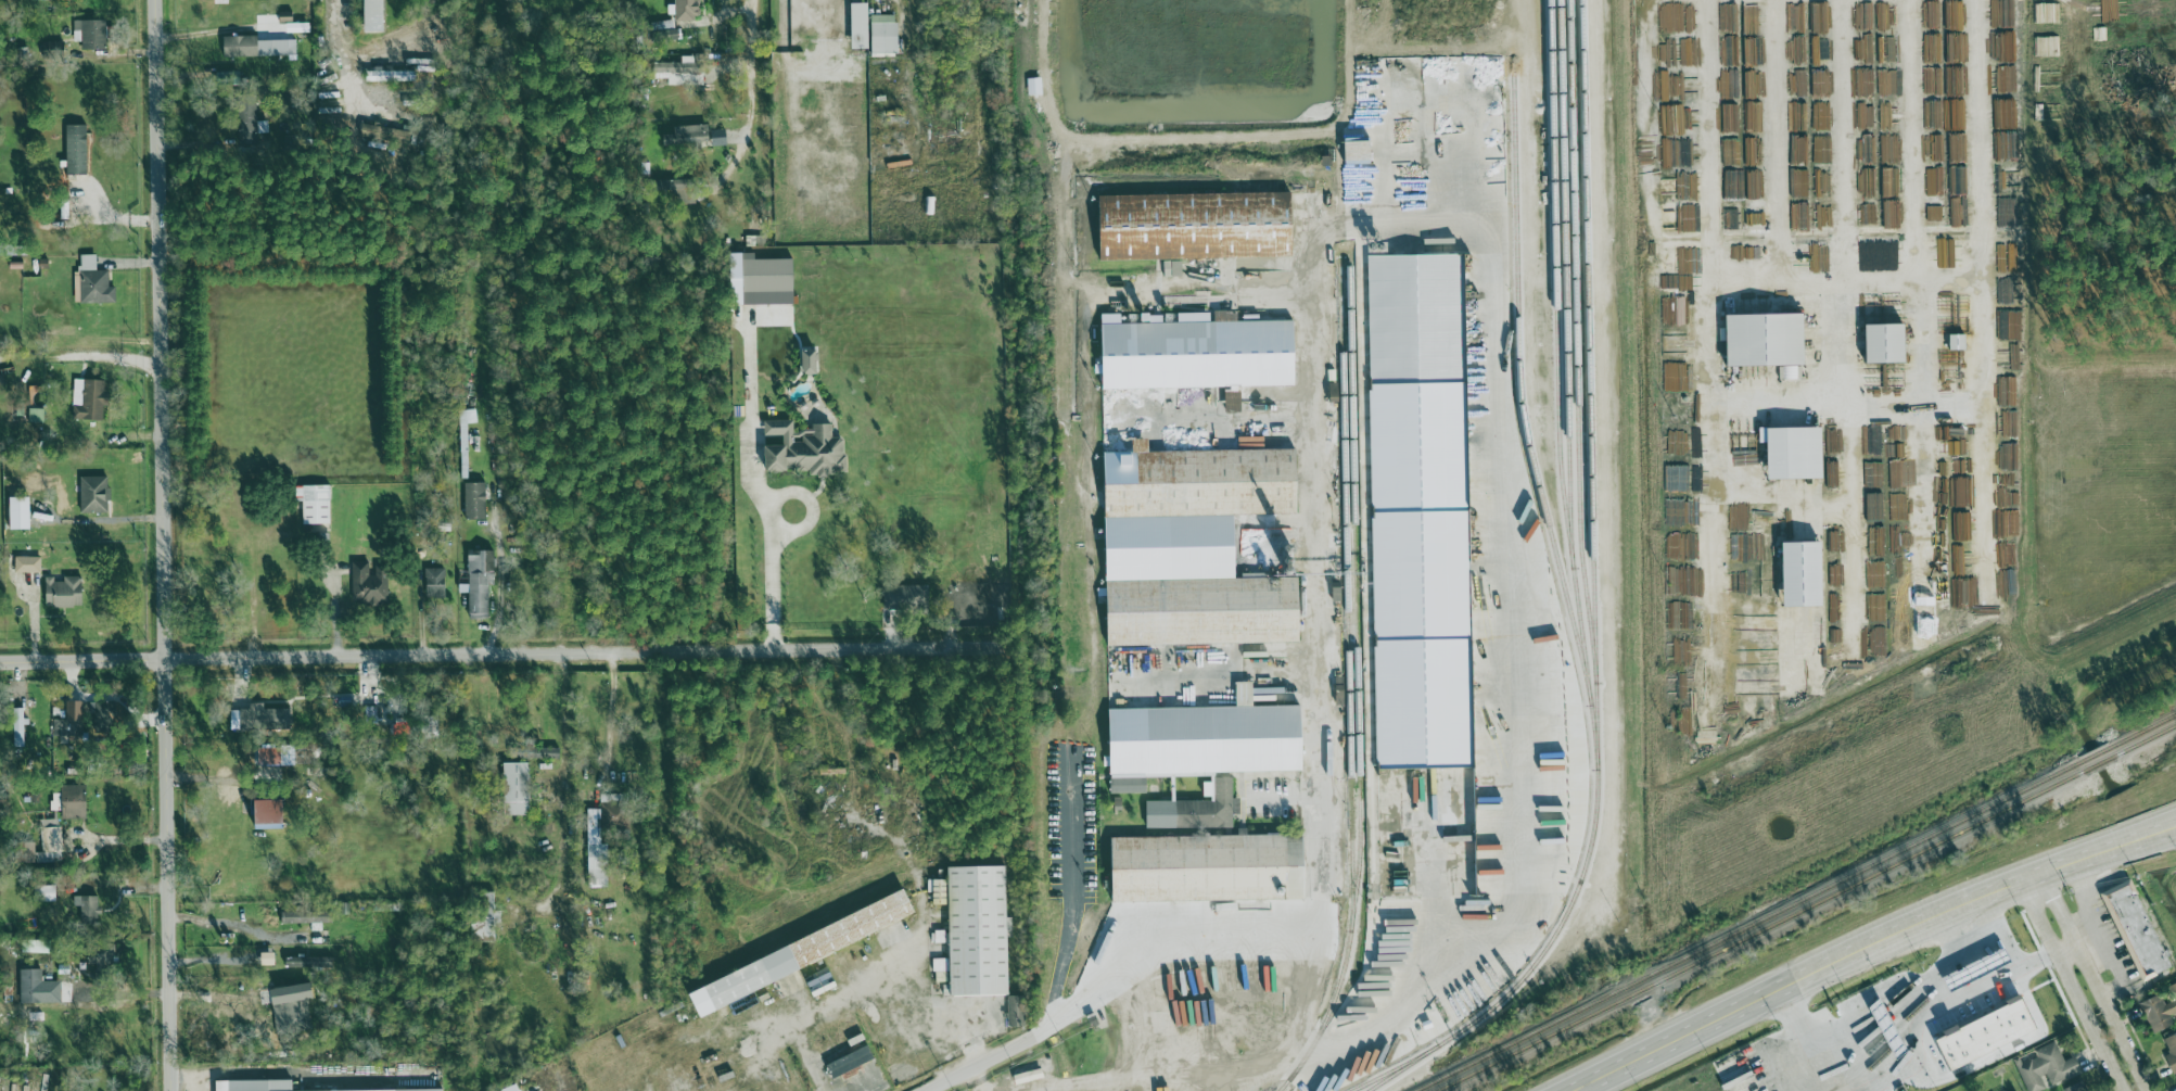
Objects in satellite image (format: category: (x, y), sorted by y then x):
building: (221, 1)
road: (824, 1)
building: (688, 10)
building: (376, 16)
building: (861, 25)
building: (90, 34)
building: (885, 34)
road: (336, 37)
building: (258, 47)
building: (680, 72)
building: (390, 75)
road: (752, 100)
building: (250, 124)
building: (386, 134)
road: (1710, 134)
road: (1777, 134)
building: (689, 135)
road: (1846, 135)
road: (1911, 136)
building: (720, 137)
building: (77, 150)
building: (676, 190)
building: (1199, 226)
building: (2, 249)
road: (1824, 269)
building: (762, 280)
building: (92, 283)
building: (1768, 340)
building: (1888, 343)
road: (115, 353)
building: (1202, 354)
building: (812, 361)
building: (1789, 372)
building: (89, 399)
building: (1123, 411)
road: (1835, 413)
building: (37, 415)
building: (466, 437)
building: (806, 449)
building: (1797, 453)
building: (94, 494)
building: (475, 500)
building: (316, 504)
building: (1421, 511)
building: (21, 513)
building: (1185, 538)
road: (162, 545)
building: (28, 561)
building: (1806, 574)
road: (500, 579)
road: (771, 580)
building: (481, 582)
building: (435, 583)
building: (369, 584)
building: (65, 593)
building: (907, 596)
building: (1926, 608)
road: (1592, 644)
road: (497, 654)
road: (1340, 693)
building: (103, 718)
building: (260, 719)
building: (72, 721)
building: (20, 727)
road: (610, 727)
building: (1205, 753)
building: (272, 757)
road: (560, 779)
building: (518, 789)
building: (75, 801)
building: (272, 813)
road: (94, 839)
building: (50, 842)
building: (598, 865)
building: (1196, 867)
building: (49, 893)
railway: (1795, 902)
railway: (1805, 908)
building: (91, 910)
building: (306, 916)
road: (1990, 922)
building: (979, 930)
building: (2137, 930)
road: (1874, 948)
building: (804, 951)
road: (2015, 954)
building: (269, 957)
building: (309, 962)
road: (1960, 962)
building: (100, 963)
road: (1121, 976)
building: (31, 985)
building: (1981, 985)
road: (2083, 985)
road: (863, 986)
road: (112, 995)
road: (216, 998)
building: (1017, 1010)
building: (2160, 1011)
building: (292, 1015)
building: (1989, 1032)
building: (2172, 1052)
road: (981, 1058)
building: (850, 1062)
road: (1141, 1065)
building: (2047, 1067)
road: (188, 1080)
building: (279, 1086)
building: (2079, 1087)

